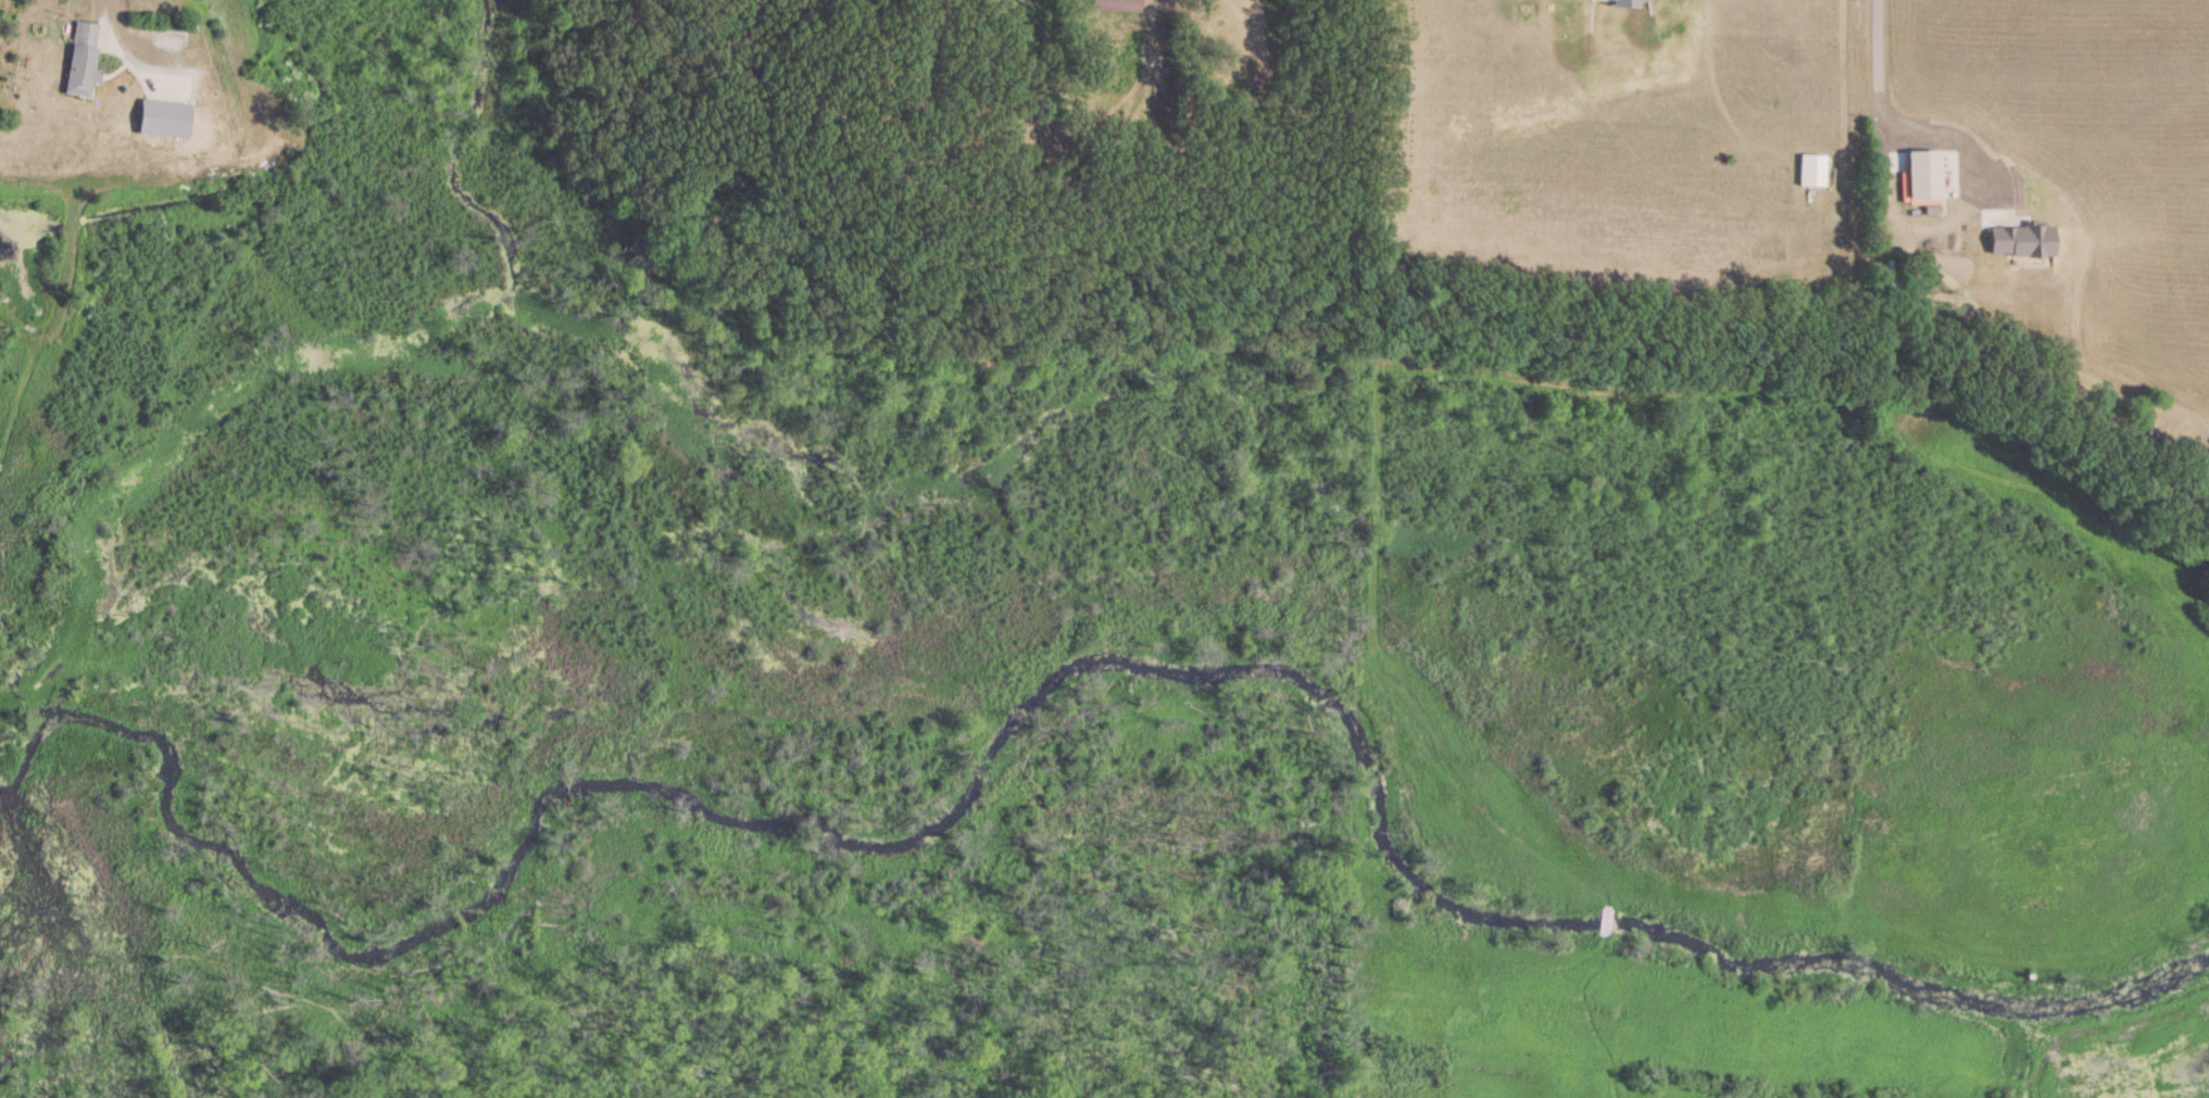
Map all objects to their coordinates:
building: (1119, 1)
road: (126, 35)
road: (1879, 58)
building: (81, 59)
building: (162, 117)
building: (1811, 169)
building: (1922, 173)

